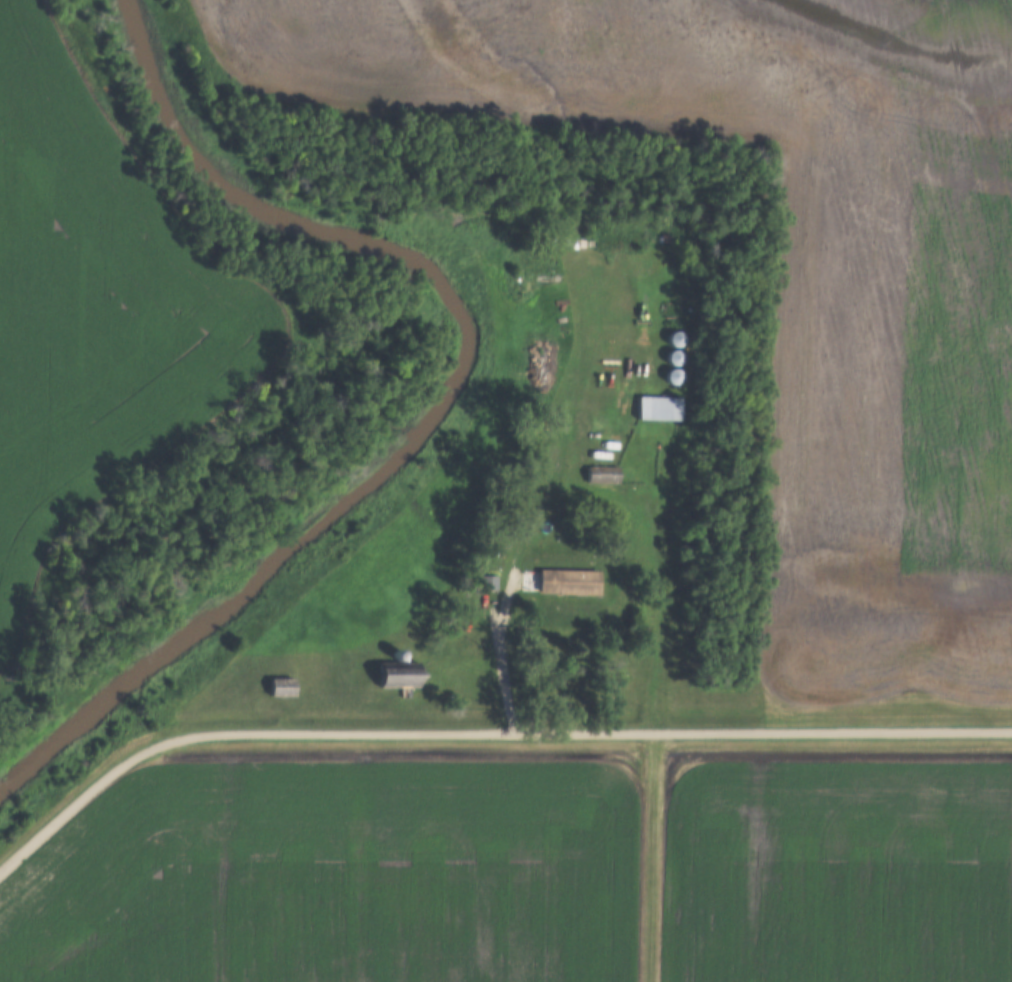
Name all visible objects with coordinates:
crop: (781, 272)
crop: (93, 308)
building: (673, 338)
building: (672, 357)
building: (671, 375)
building: (660, 408)
building: (602, 473)
building: (488, 582)
building: (557, 618)
building: (400, 654)
building: (395, 655)
silo: (395, 655)
building: (401, 674)
building: (280, 686)
road: (830, 731)
road: (302, 734)
crop: (837, 871)
crop: (331, 876)

